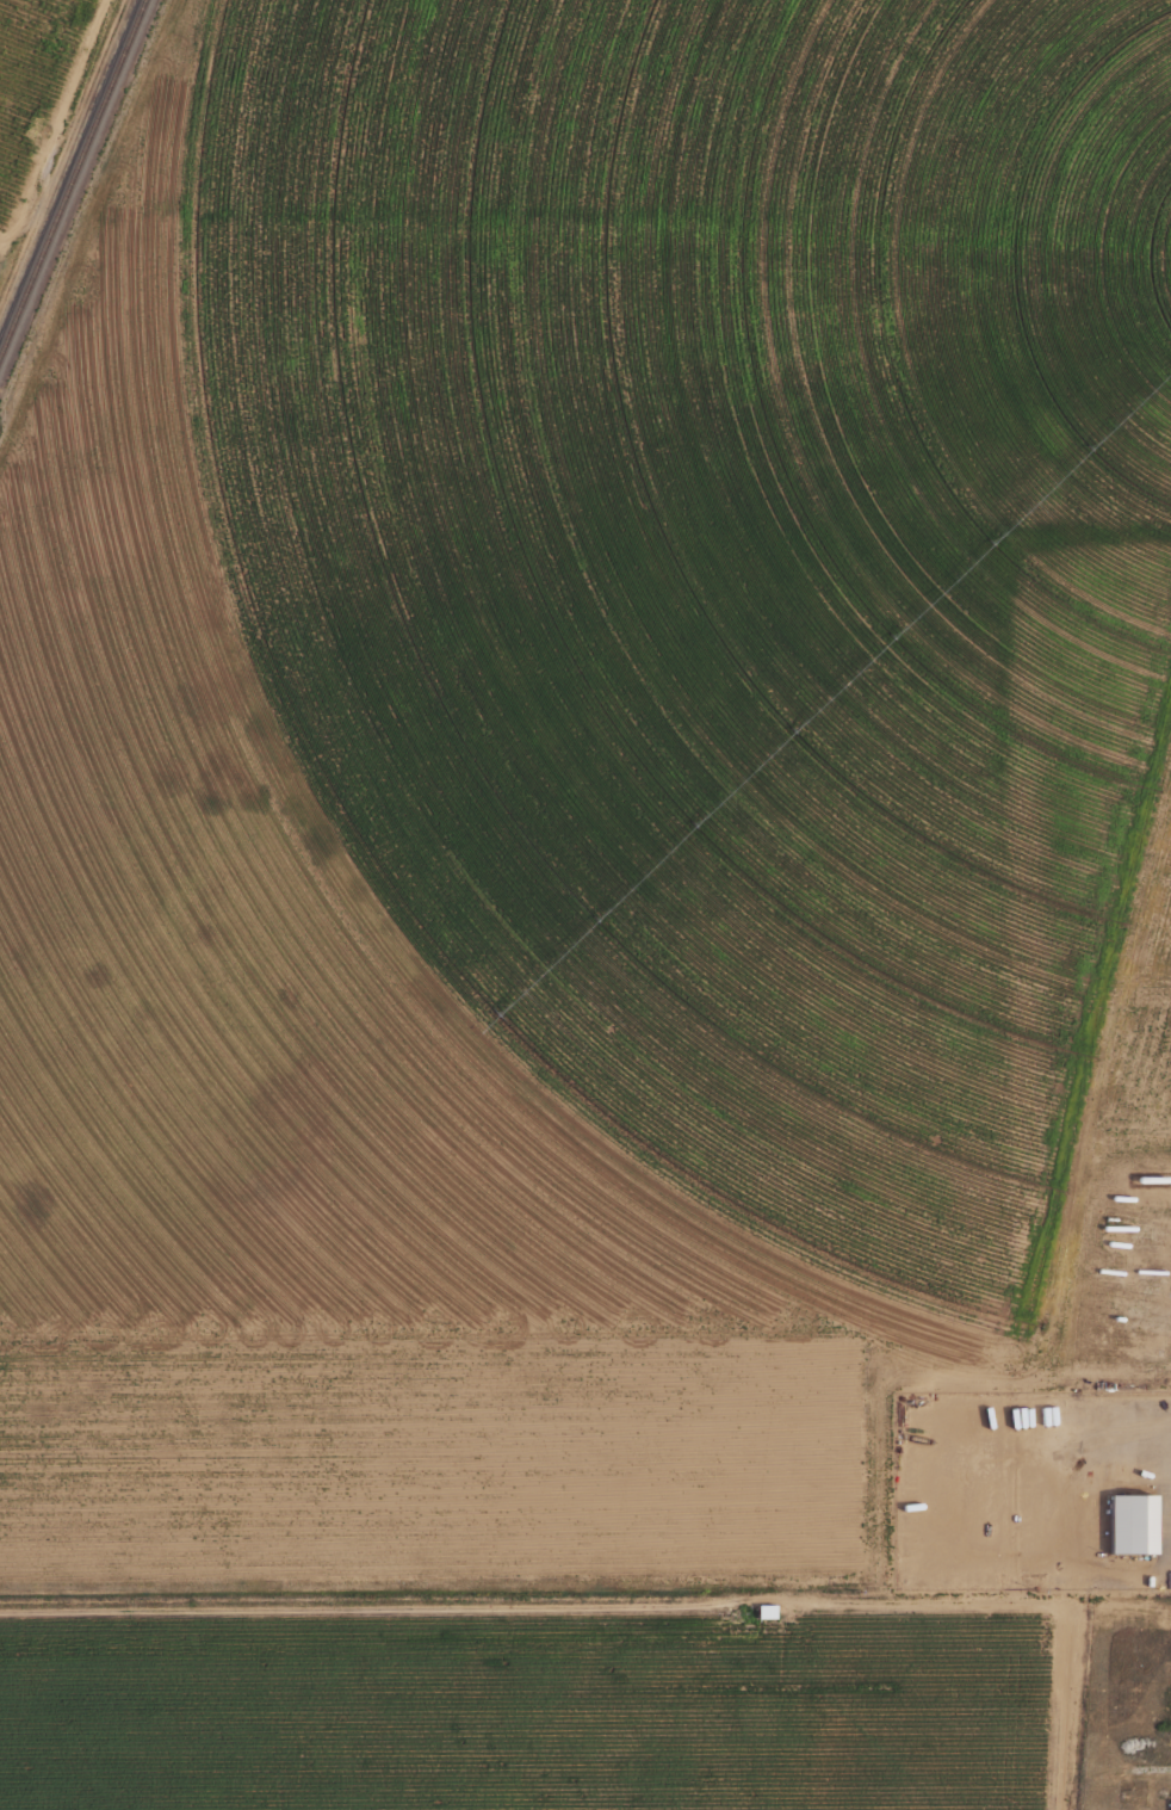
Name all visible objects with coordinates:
crop: (31, 74)
railway: (72, 177)
crop: (718, 562)
building: (1130, 1077)
building: (1165, 1371)
building: (1127, 1522)
road: (633, 1606)
building: (763, 1611)
building: (1103, 1798)
building: (1128, 1802)

